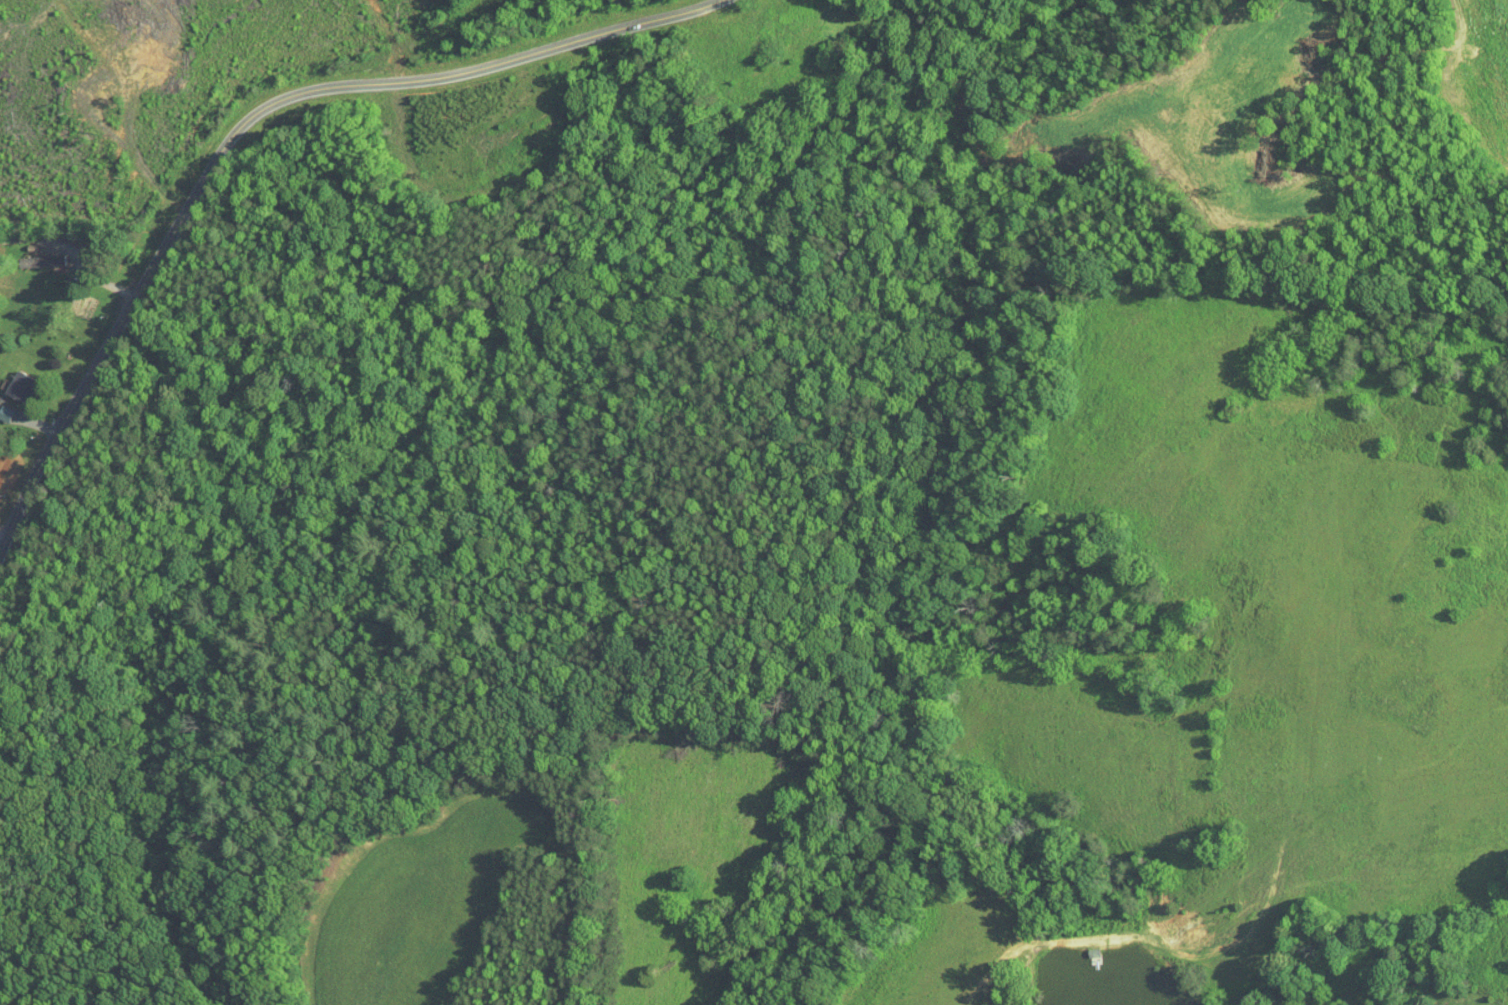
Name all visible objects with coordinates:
road: (331, 84)
road: (76, 248)
building: (40, 253)
building: (13, 379)
building: (2, 407)

